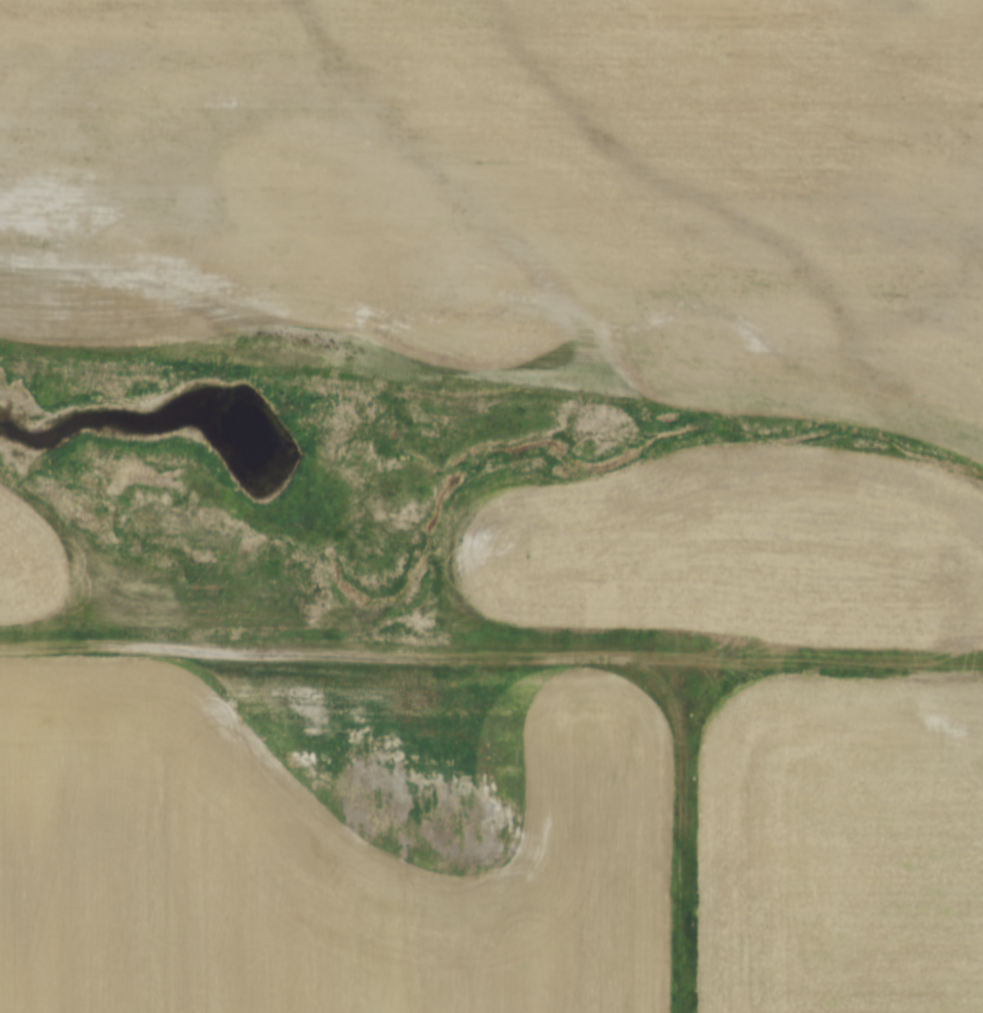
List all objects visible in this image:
road: (491, 664)
road: (673, 839)

